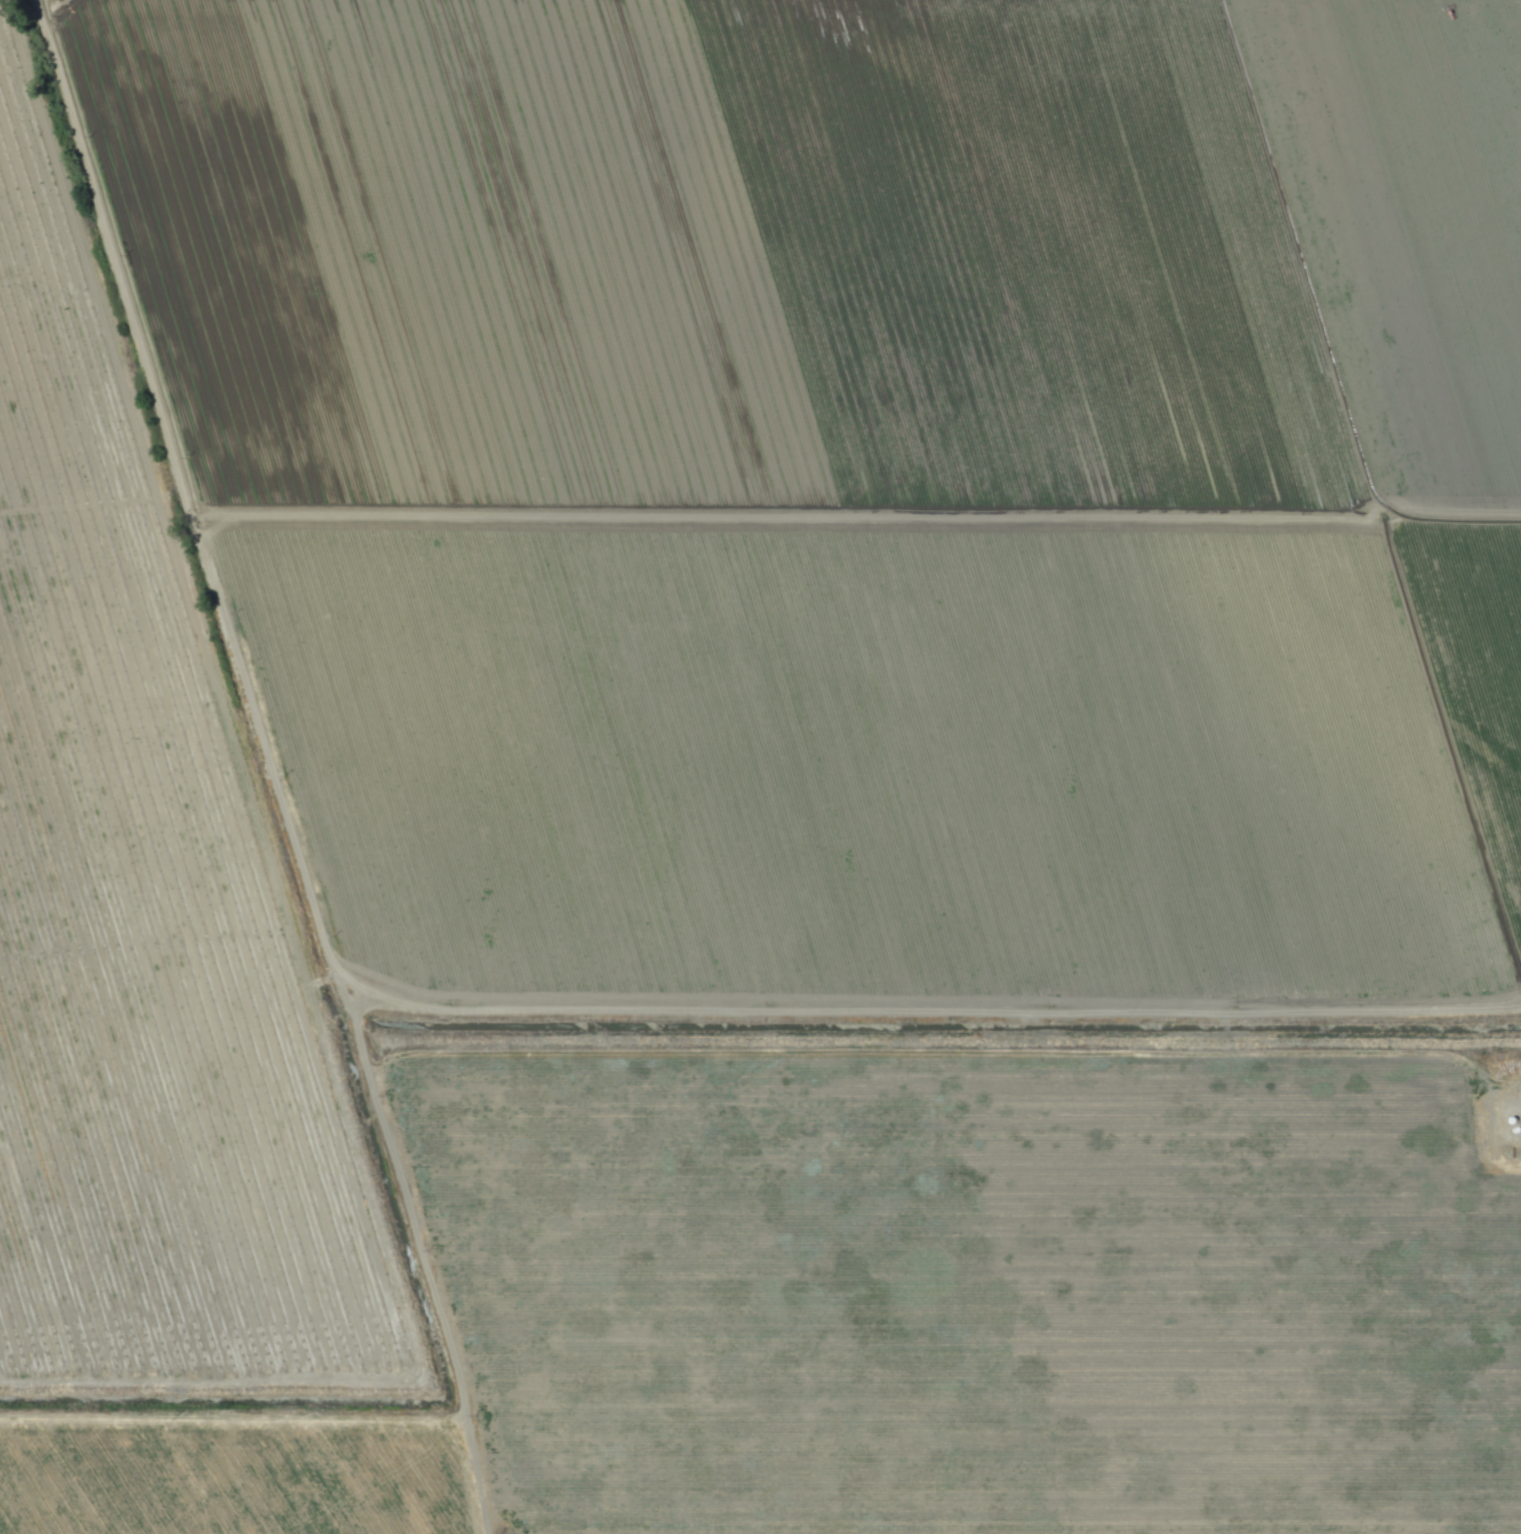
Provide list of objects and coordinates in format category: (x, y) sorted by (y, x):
crop: (760, 767)

